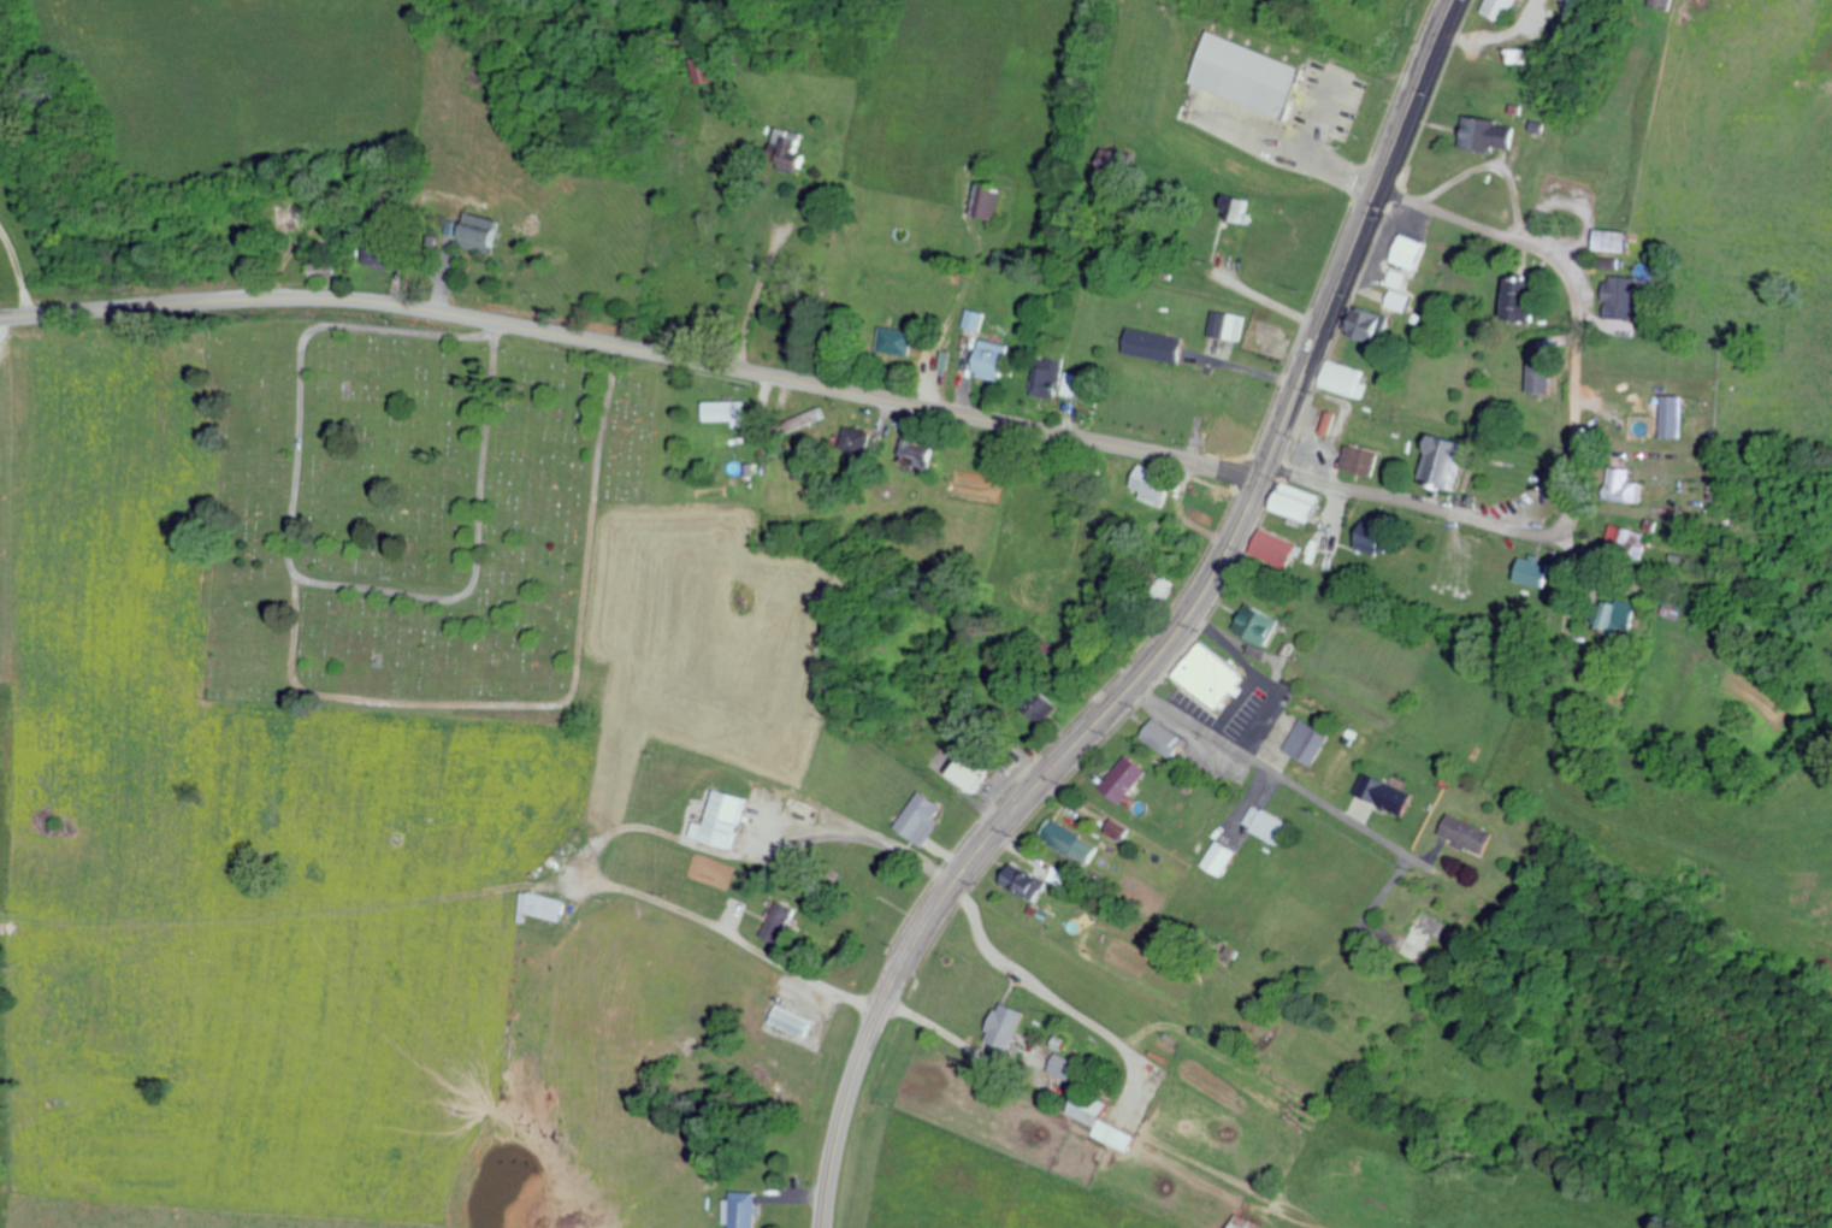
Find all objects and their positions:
building: (1680, 0)
building: (1665, 2)
building: (1503, 8)
building: (1517, 55)
building: (1254, 73)
building: (1490, 134)
building: (798, 147)
building: (994, 200)
building: (487, 231)
building: (1623, 240)
building: (1414, 250)
building: (385, 254)
building: (1401, 278)
building: (1624, 296)
building: (1527, 297)
building: (1402, 300)
building: (980, 318)
building: (1371, 323)
building: (1230, 324)
road: (1606, 330)
building: (902, 341)
building: (1163, 346)
road: (634, 347)
building: (997, 359)
building: (1053, 378)
building: (1546, 378)
building: (1082, 384)
building: (732, 411)
building: (1677, 415)
building: (1335, 421)
building: (861, 438)
building: (923, 453)
building: (1452, 457)
building: (1365, 460)
building: (1157, 485)
building: (1639, 491)
building: (1306, 502)
park: (413, 513)
road: (1518, 527)
building: (1379, 537)
building: (1280, 547)
building: (1537, 569)
building: (1678, 609)
building: (1633, 619)
building: (1263, 622)
road: (1172, 639)
road: (1632, 645)
building: (1217, 674)
building: (1169, 738)
building: (1311, 740)
building: (983, 773)
building: (1129, 778)
road: (1793, 785)
road: (1668, 791)
building: (1390, 793)
building: (927, 817)
building: (729, 820)
building: (1270, 823)
building: (1121, 830)
building: (1470, 833)
building: (1080, 842)
building: (1225, 857)
road: (1468, 880)
building: (1027, 881)
building: (548, 907)
building: (785, 921)
building: (798, 1021)
building: (1012, 1025)
building: (1074, 1068)
building: (1112, 1126)
building: (746, 1209)
building: (1240, 1222)

